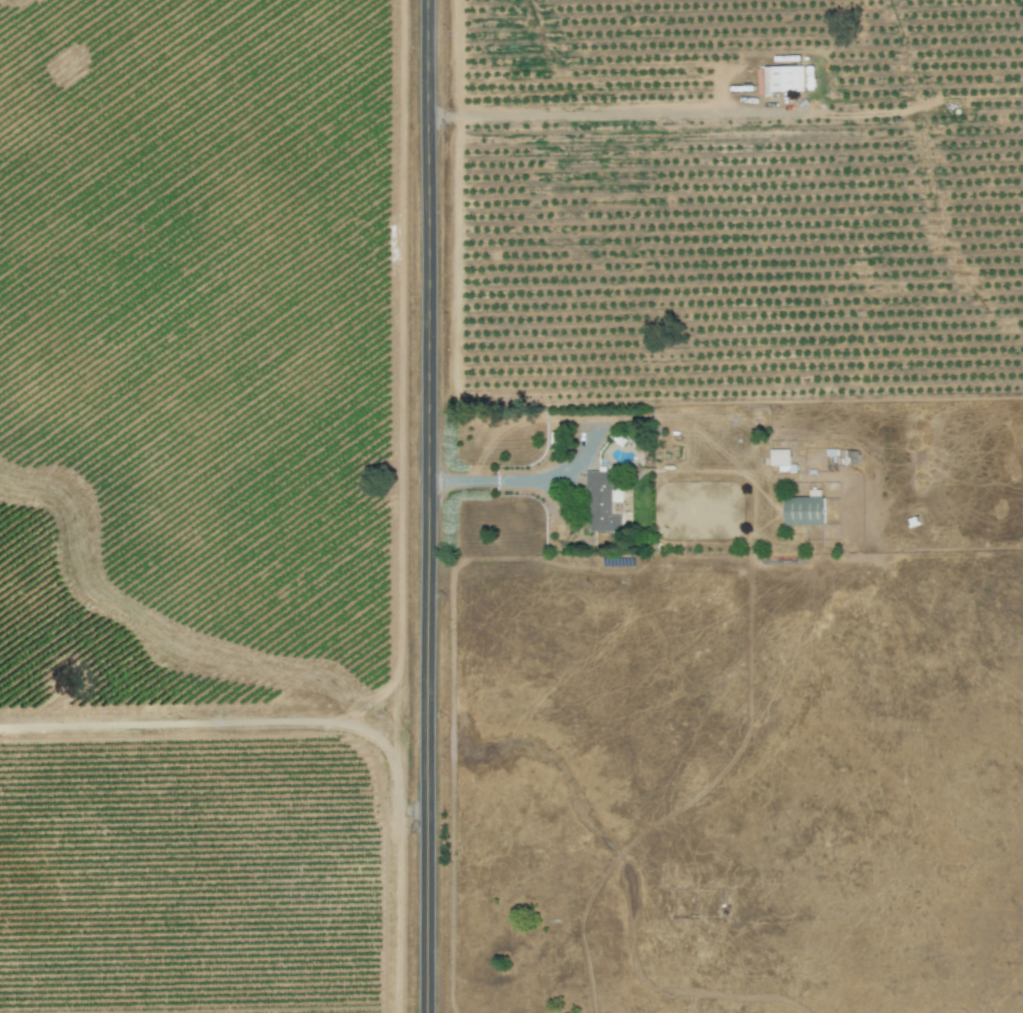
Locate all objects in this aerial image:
road: (605, 107)
building: (782, 459)
road: (504, 478)
building: (607, 503)
road: (432, 506)
building: (808, 511)

